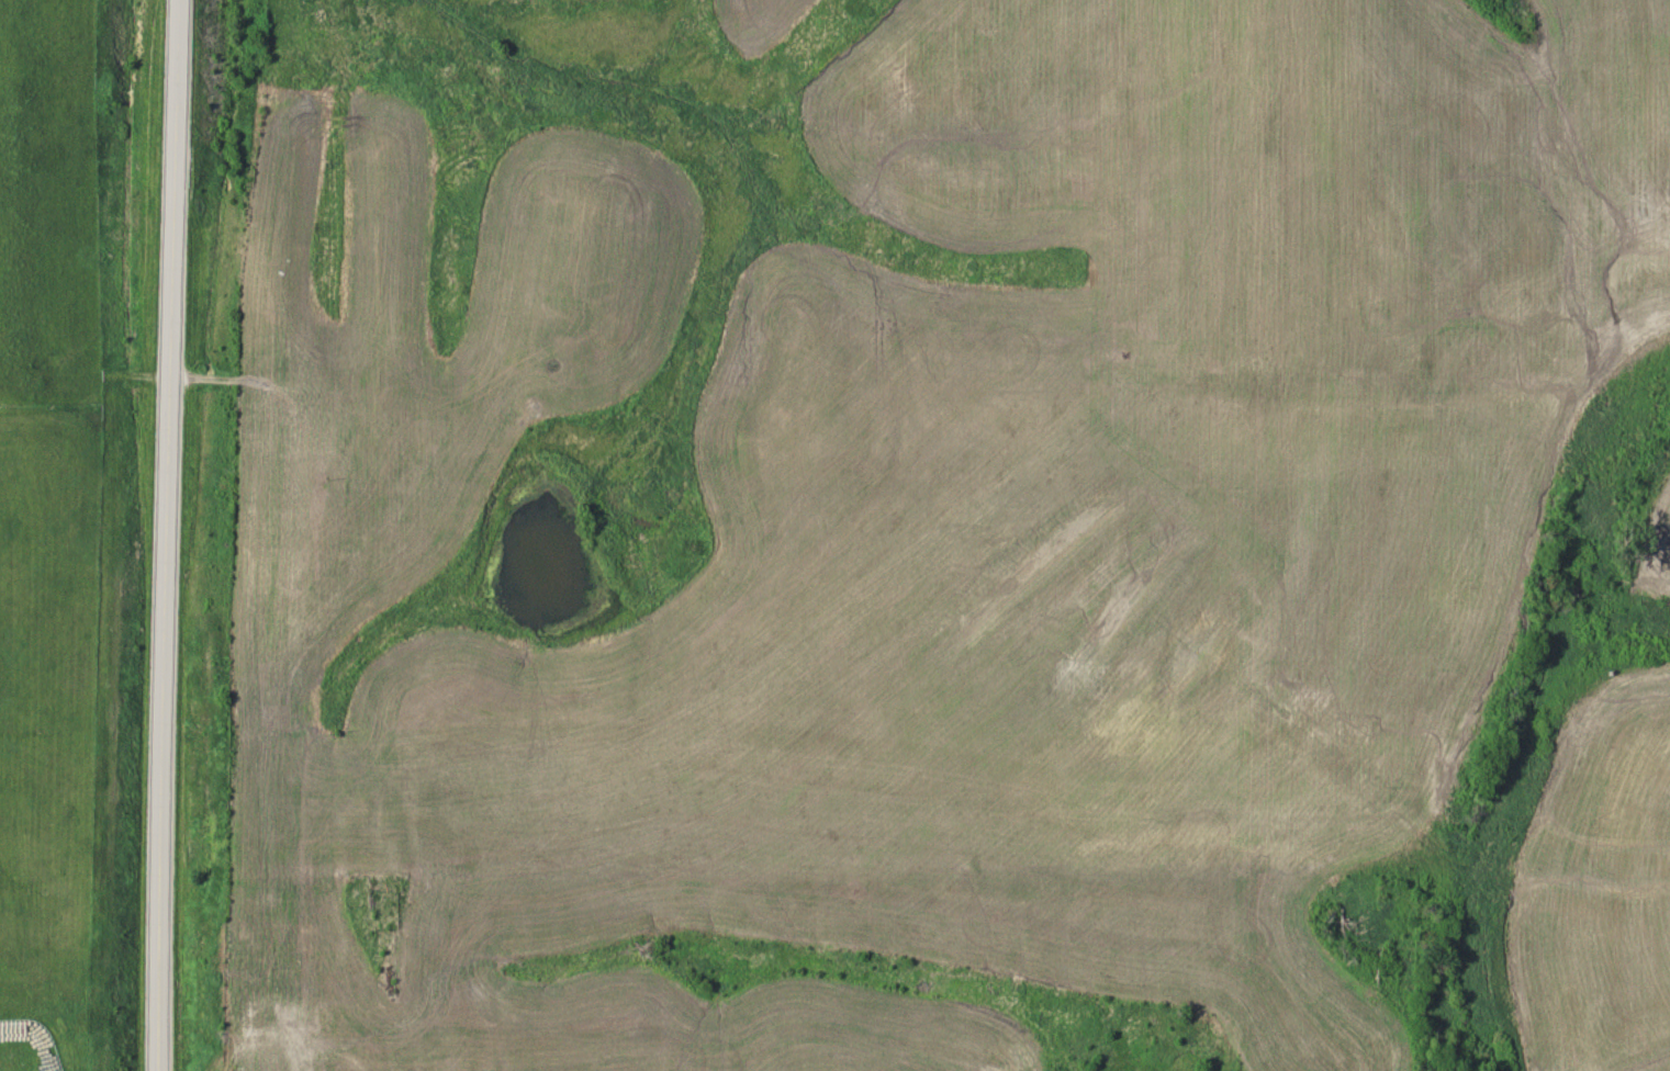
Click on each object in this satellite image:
road: (168, 534)

